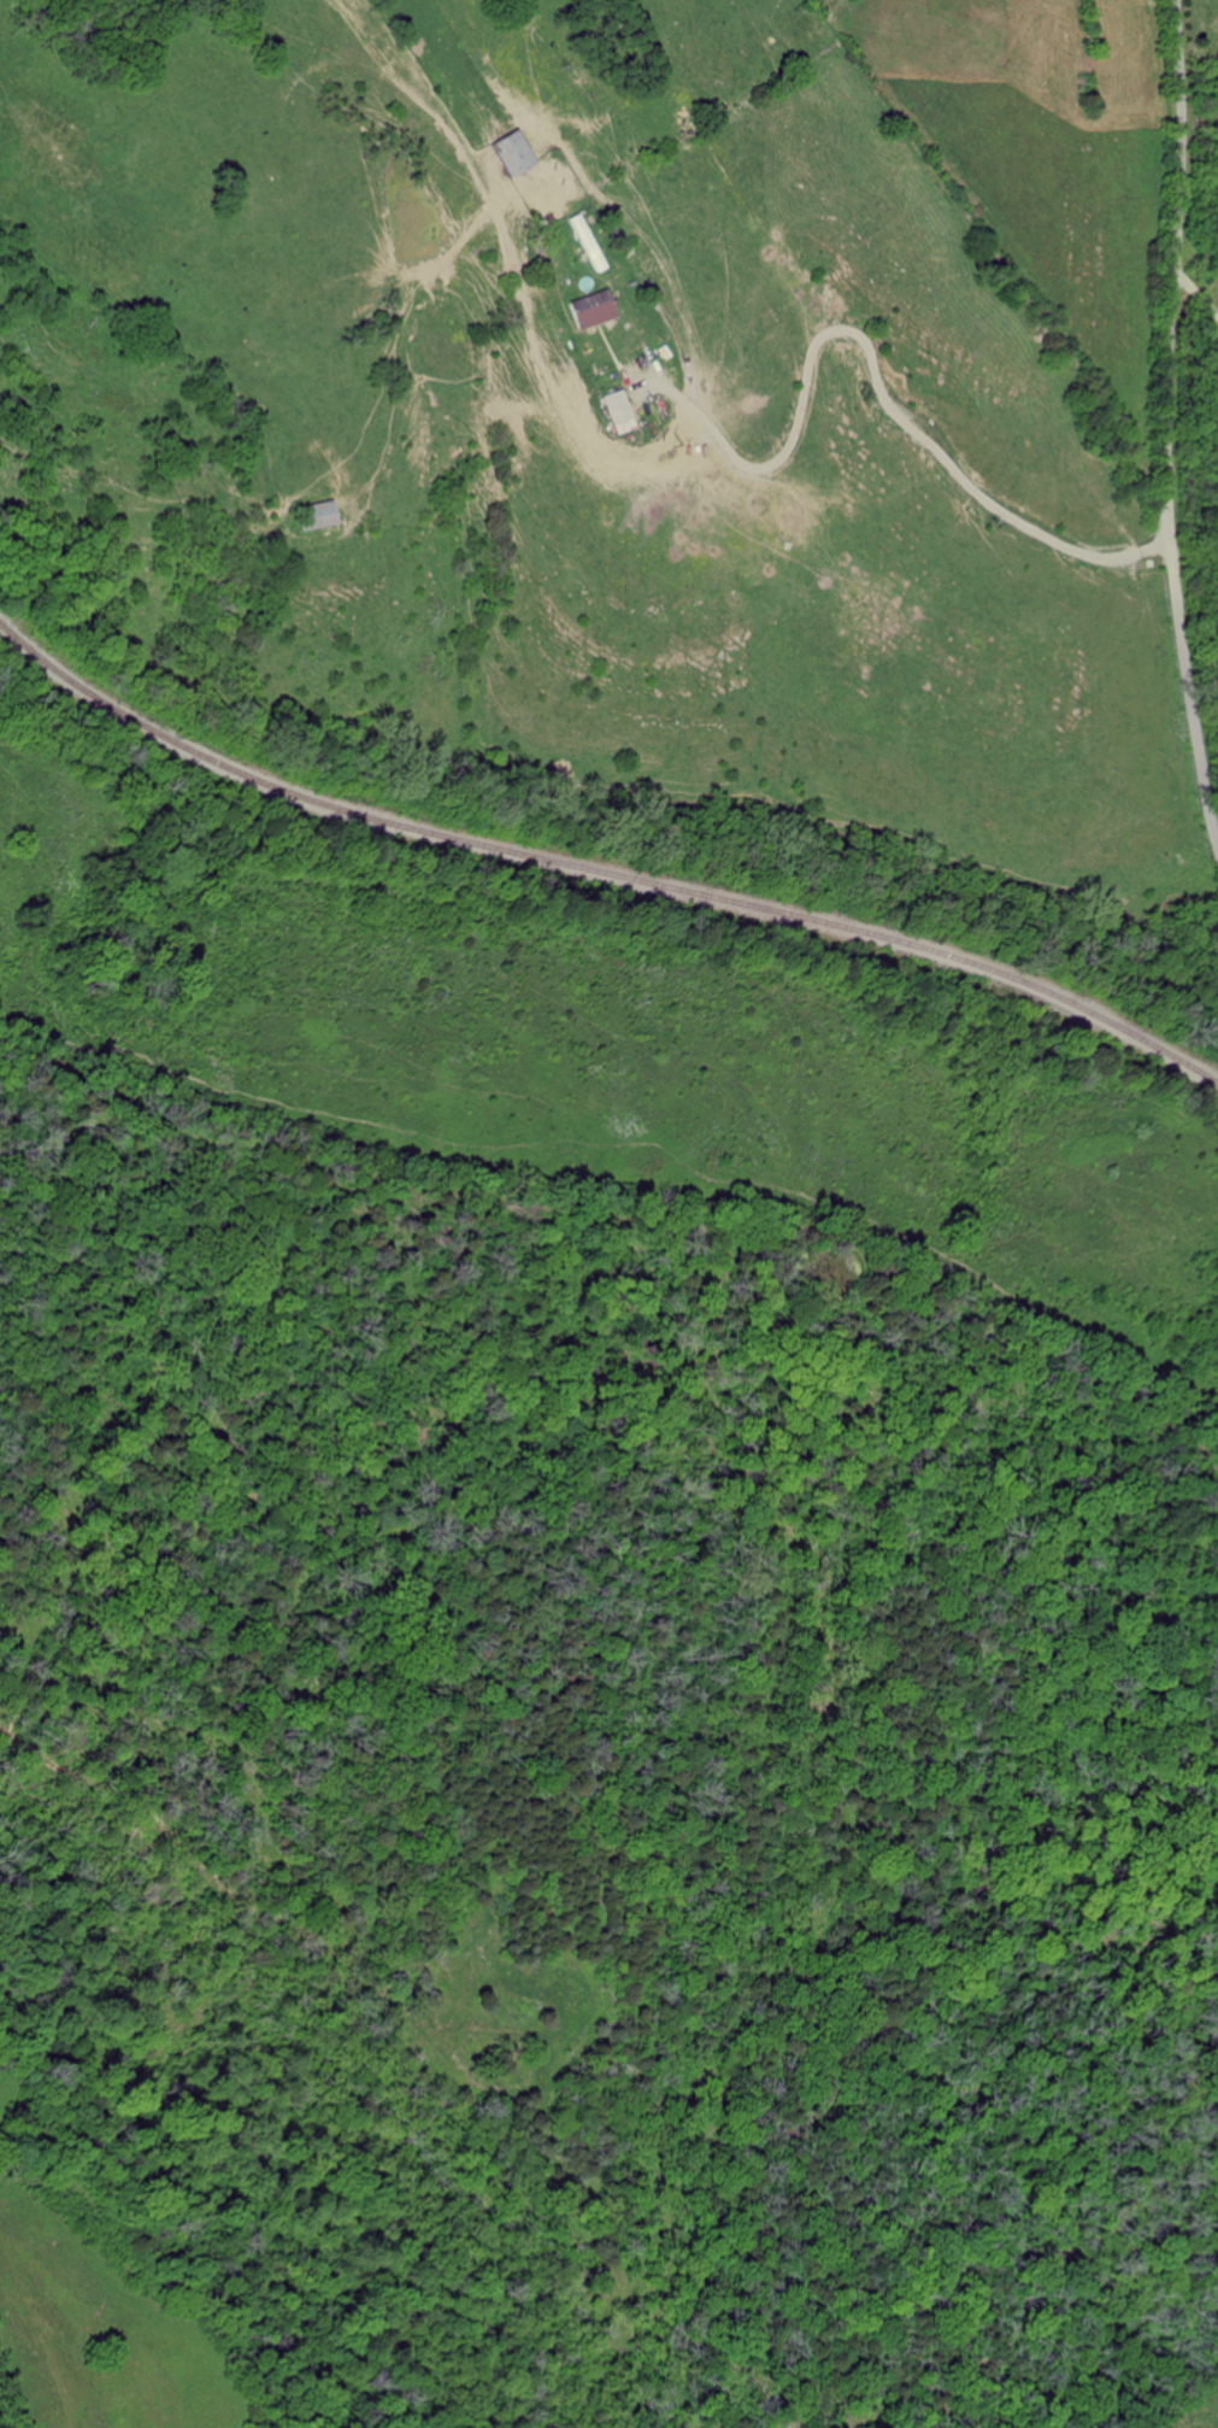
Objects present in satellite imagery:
building: (512, 153)
road: (1198, 300)
building: (590, 310)
road: (884, 394)
building: (617, 412)
road: (1169, 422)
building: (316, 516)
railway: (599, 869)

